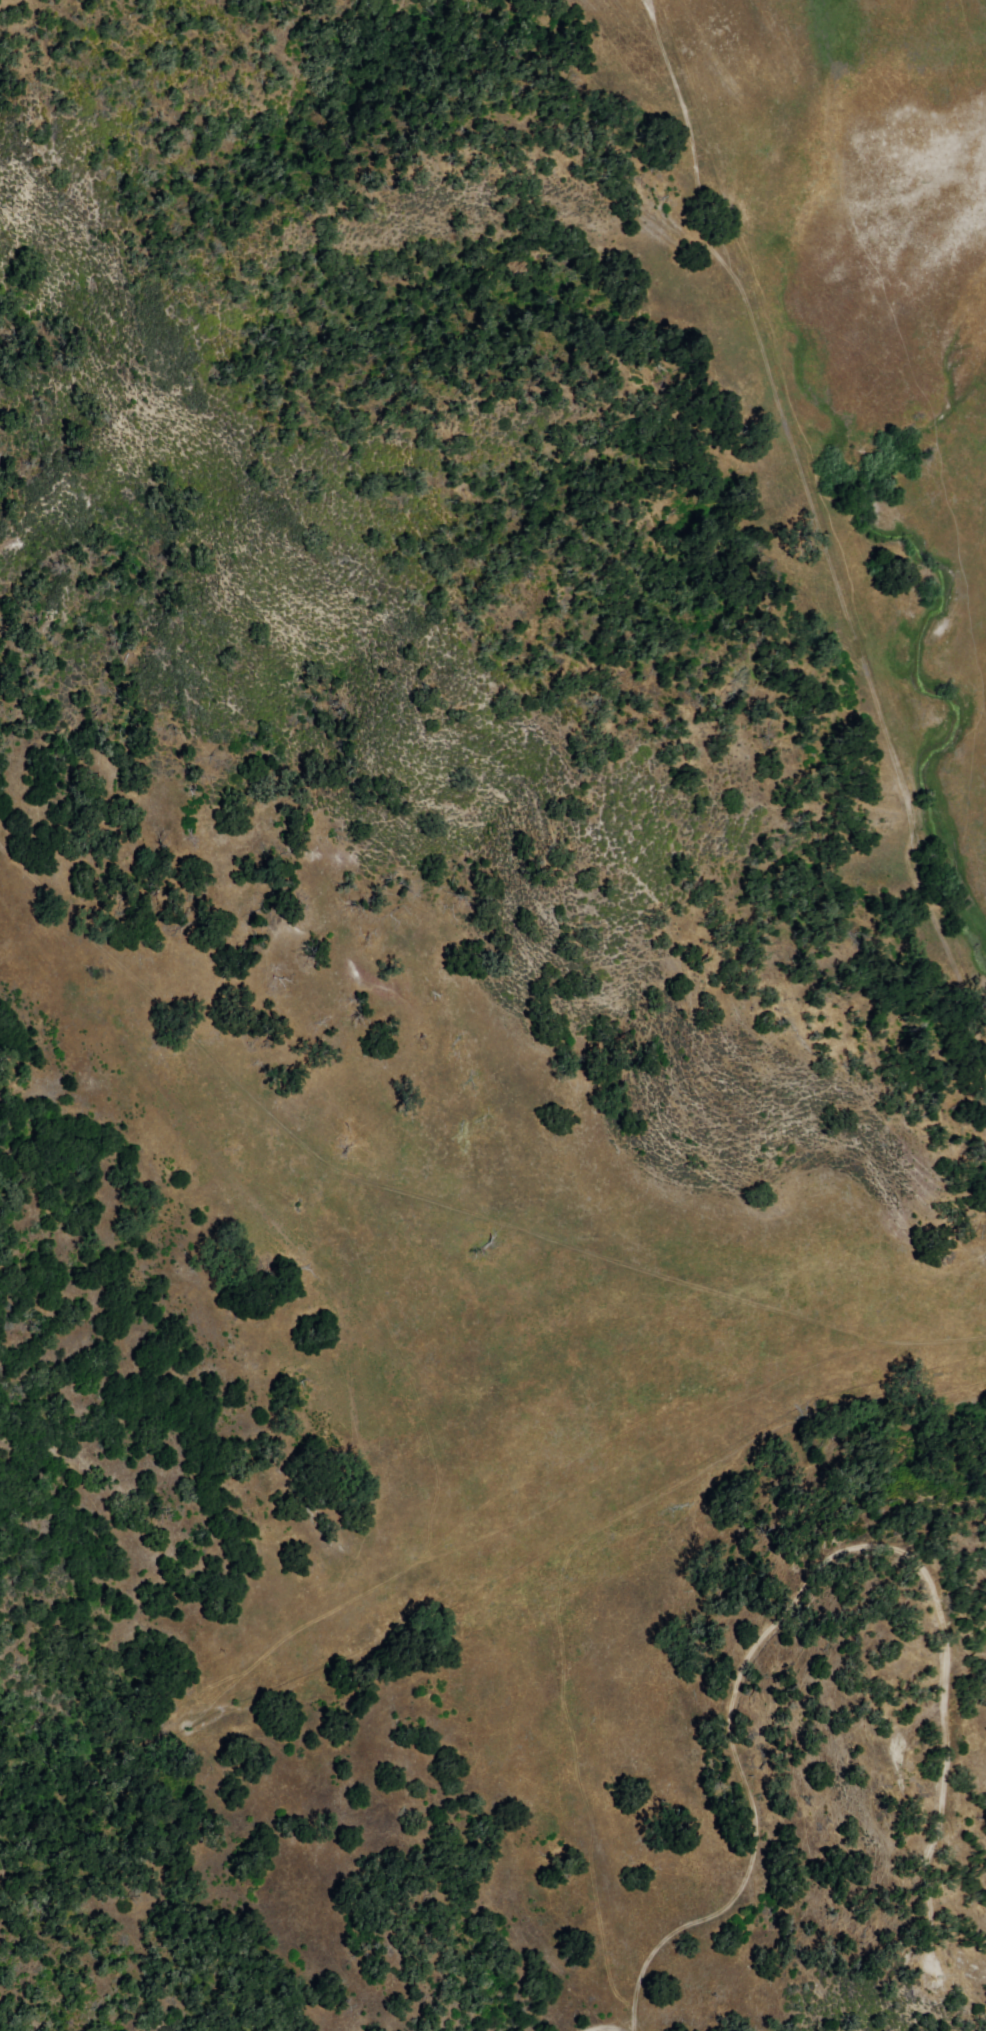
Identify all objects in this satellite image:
road: (436, 1204)

